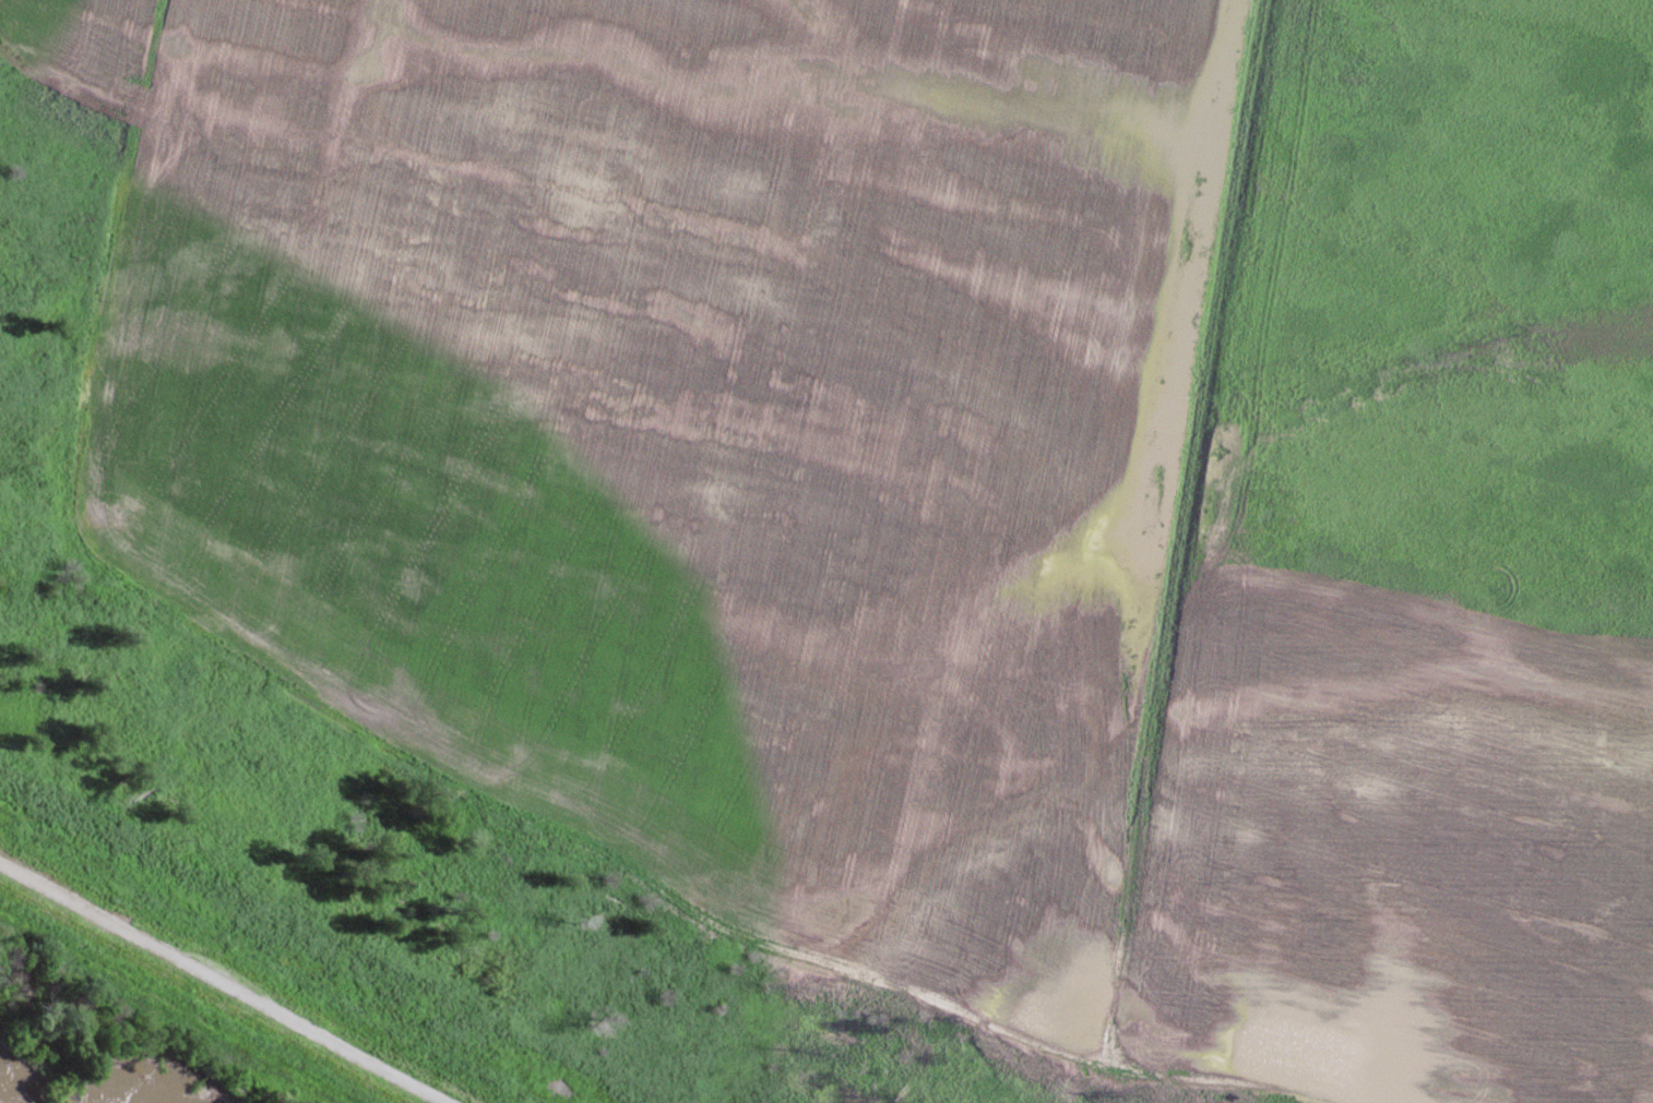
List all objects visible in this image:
road: (218, 984)

